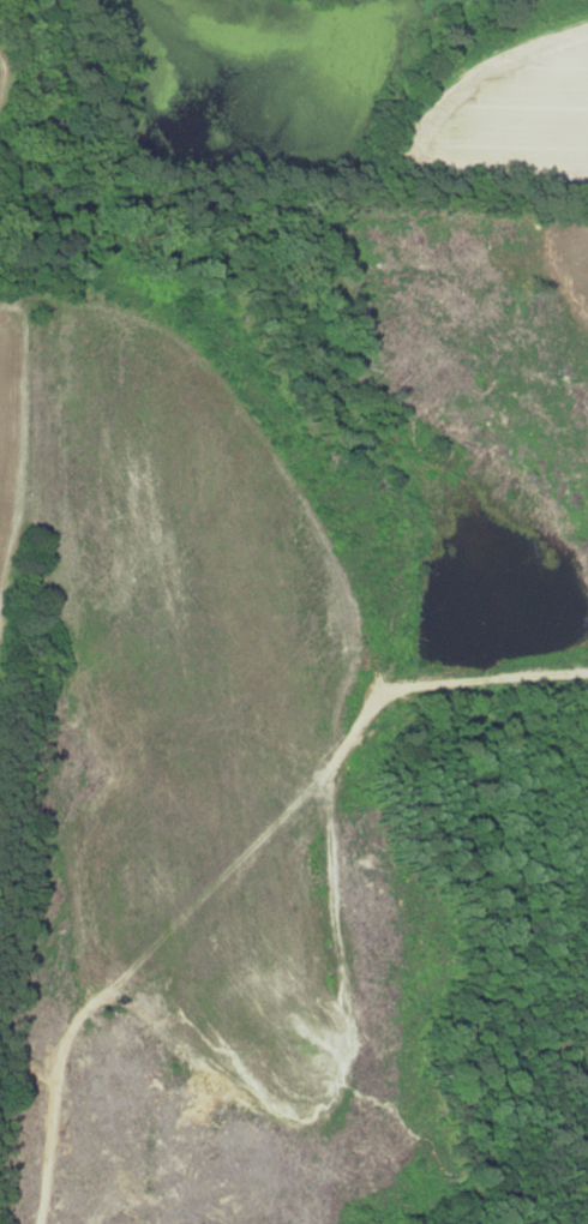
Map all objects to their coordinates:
crop: (511, 114)

